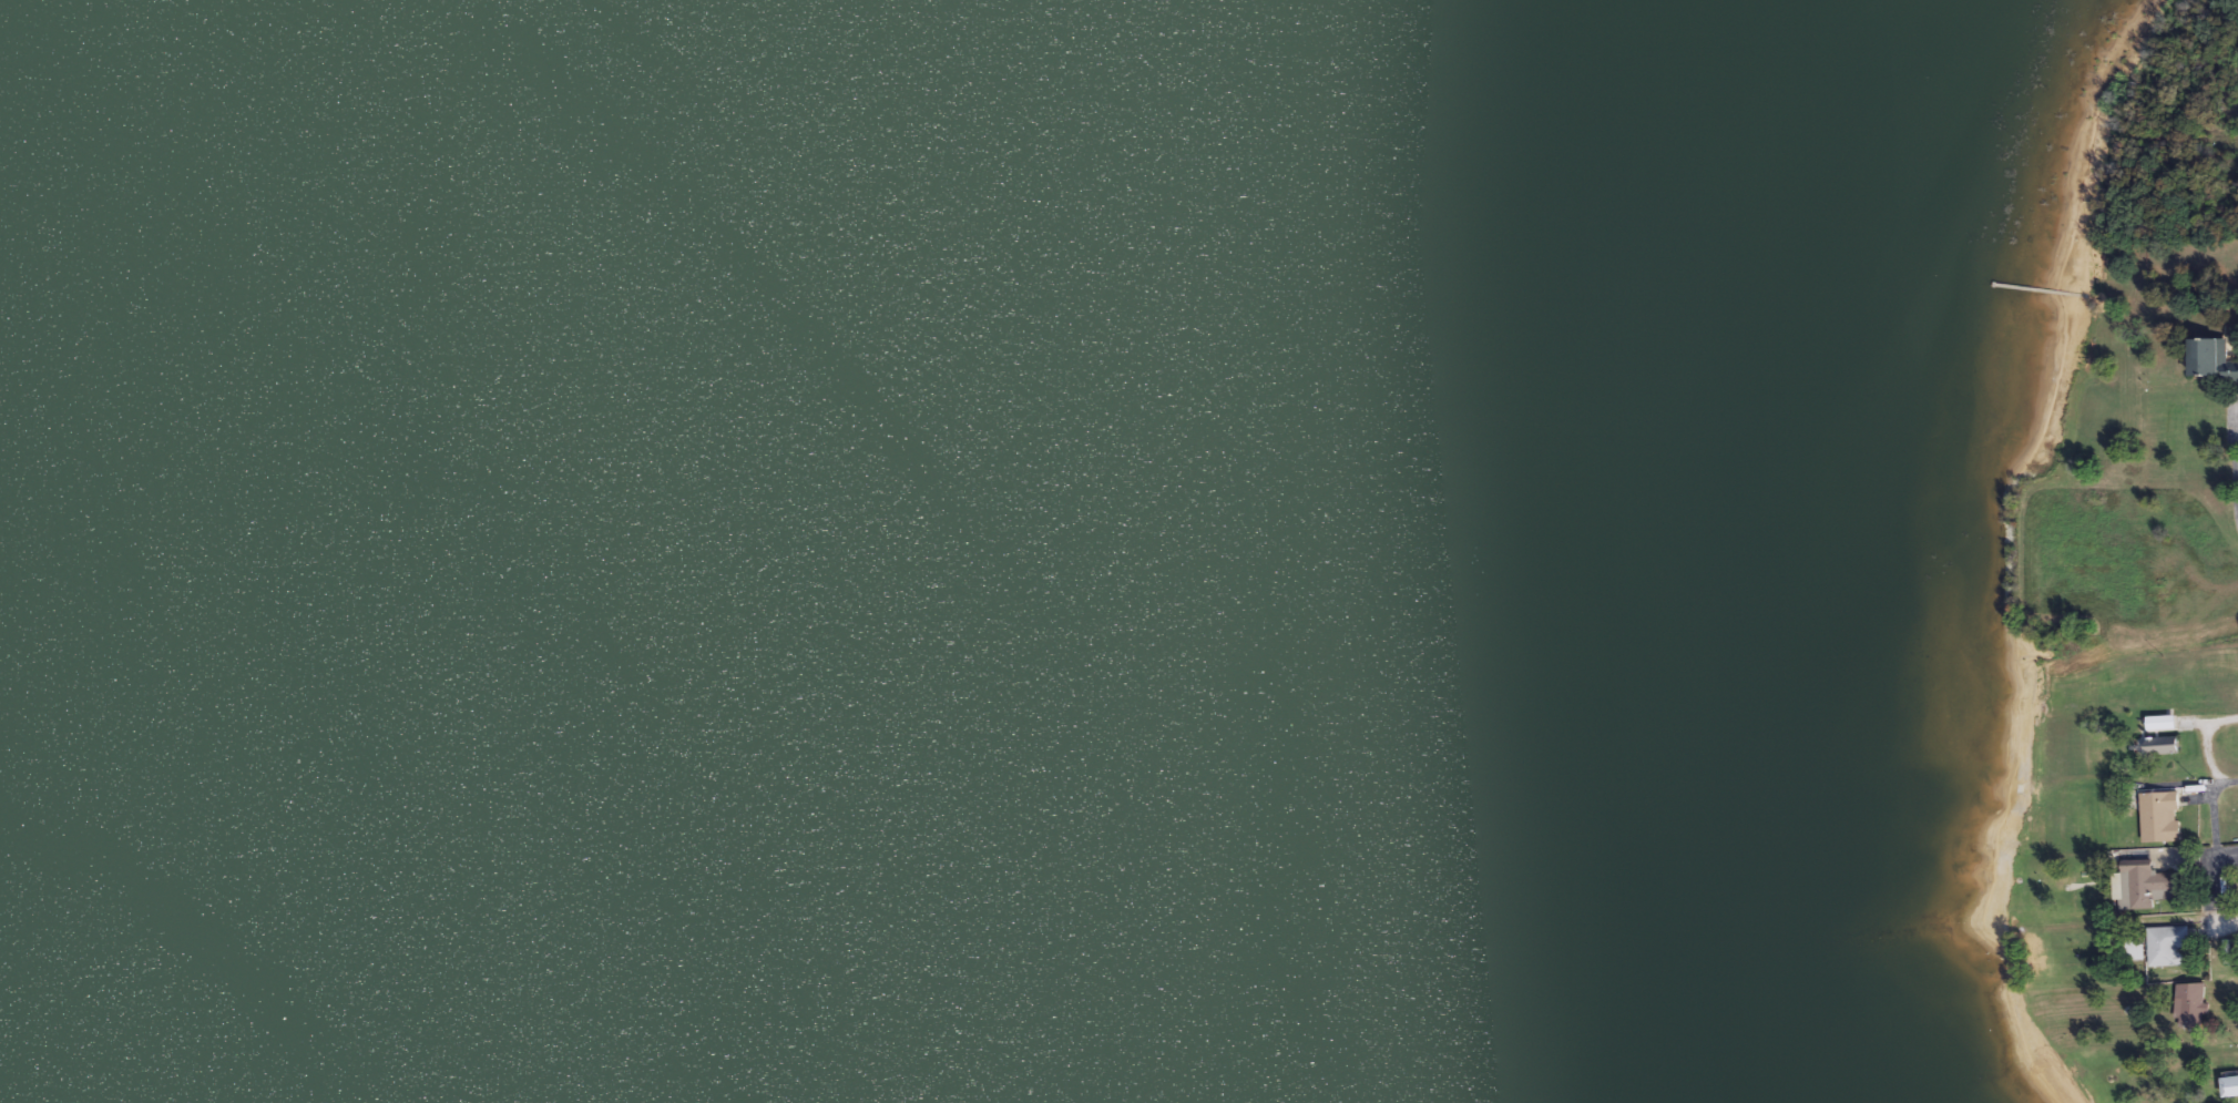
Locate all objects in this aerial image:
building: (2211, 359)
road: (2234, 468)
road: (2220, 723)
building: (2159, 736)
road: (2217, 784)
building: (2159, 816)
road: (2224, 854)
building: (2144, 885)
road: (2226, 920)
building: (2166, 946)
building: (2133, 950)
road: (2237, 982)
building: (2189, 1005)
building: (2230, 1085)

